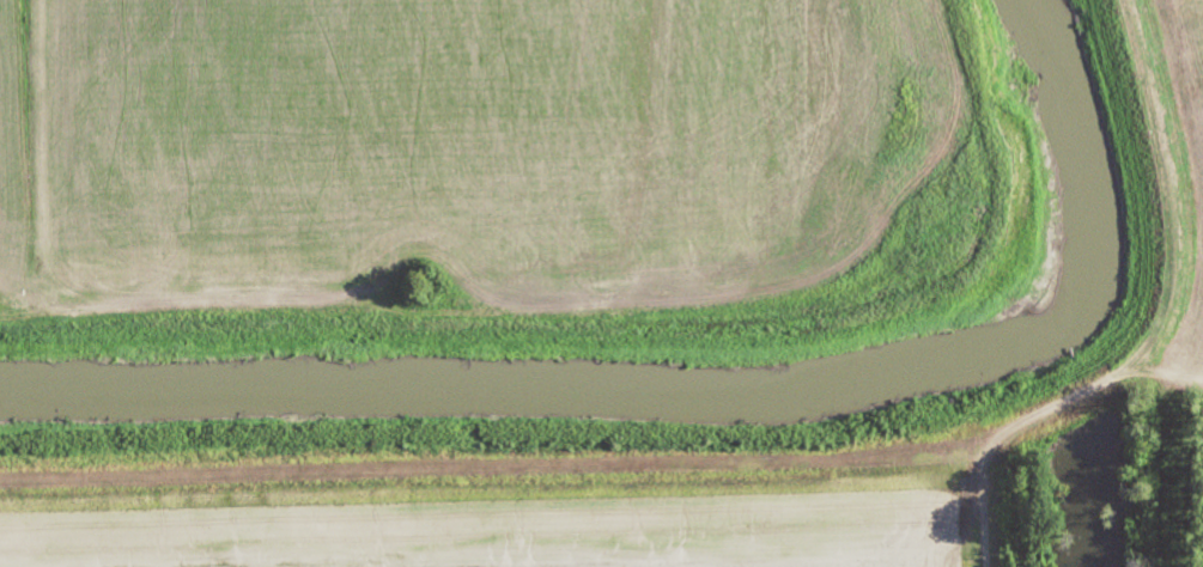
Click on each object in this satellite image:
road: (618, 315)
river: (705, 395)

